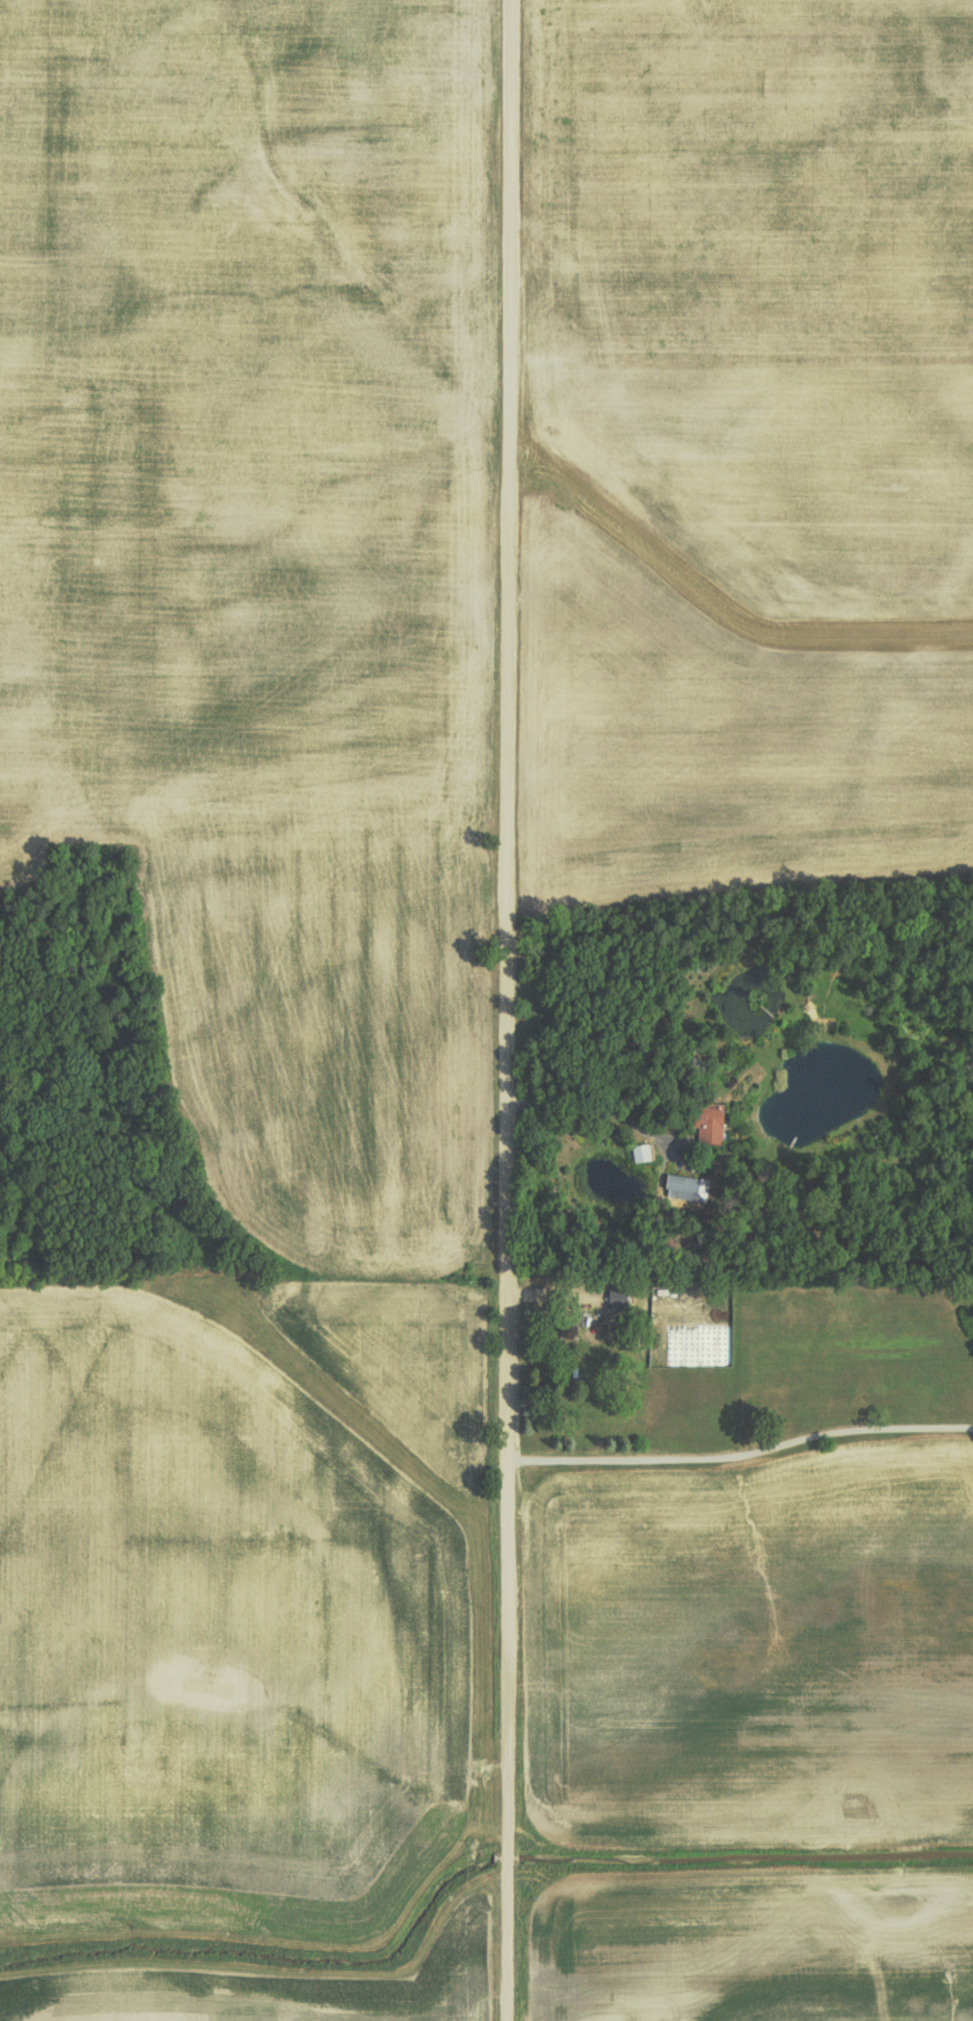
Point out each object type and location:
crop: (256, 564)
road: (506, 1010)
building: (709, 1124)
building: (642, 1152)
building: (686, 1187)
road: (741, 1456)

